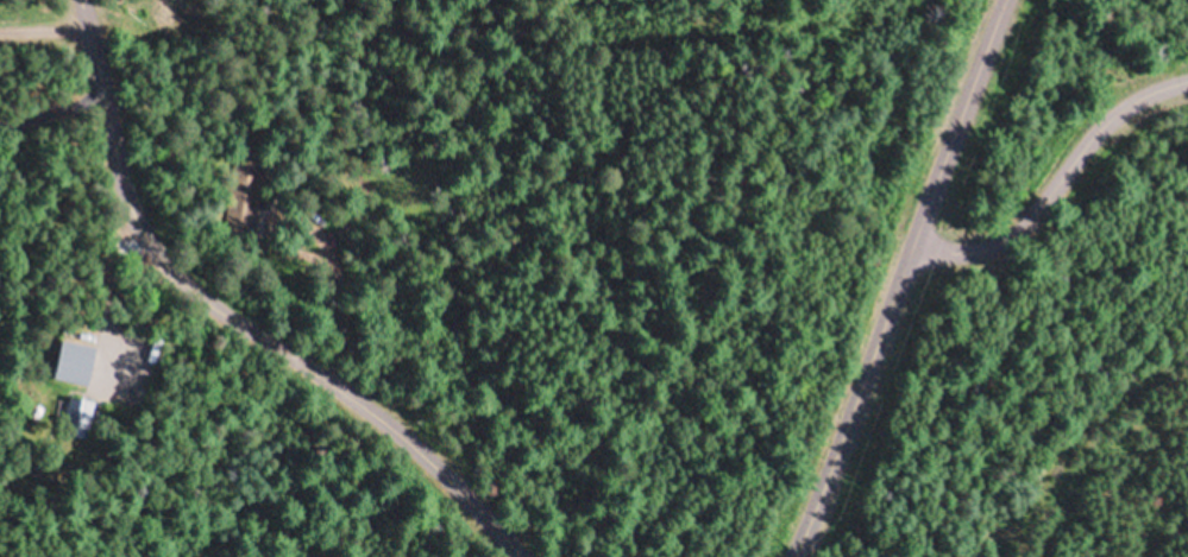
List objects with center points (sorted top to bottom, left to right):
road: (51, 39)
road: (56, 110)
road: (1060, 191)
road: (907, 278)
park: (1068, 293)
road: (237, 322)

